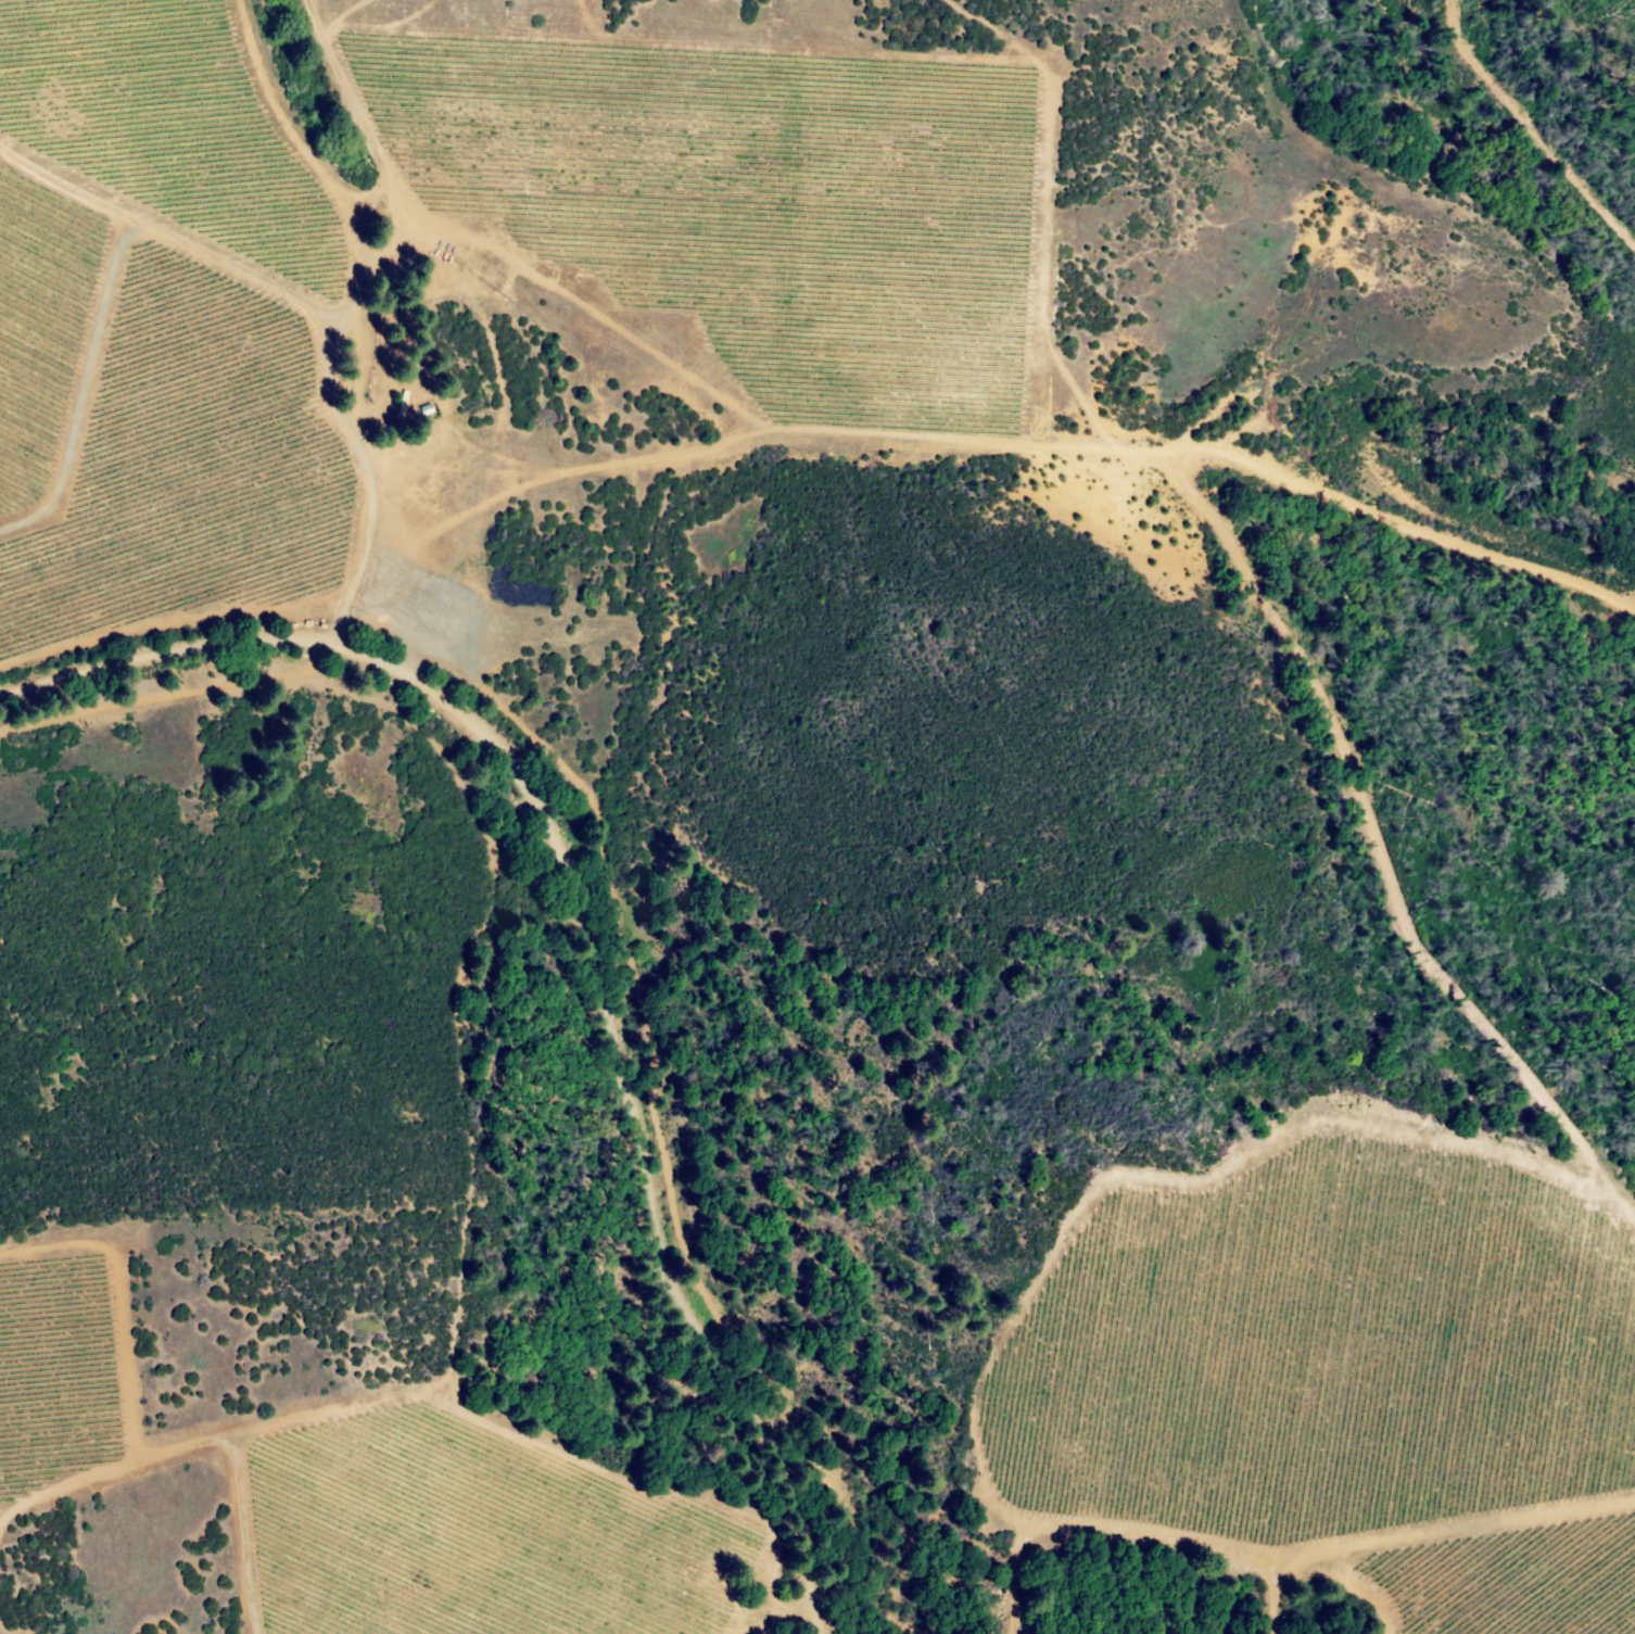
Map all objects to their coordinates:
road: (352, 301)
building: (402, 404)
building: (451, 468)
road: (1187, 493)
road: (168, 620)
road: (335, 622)
road: (587, 934)

